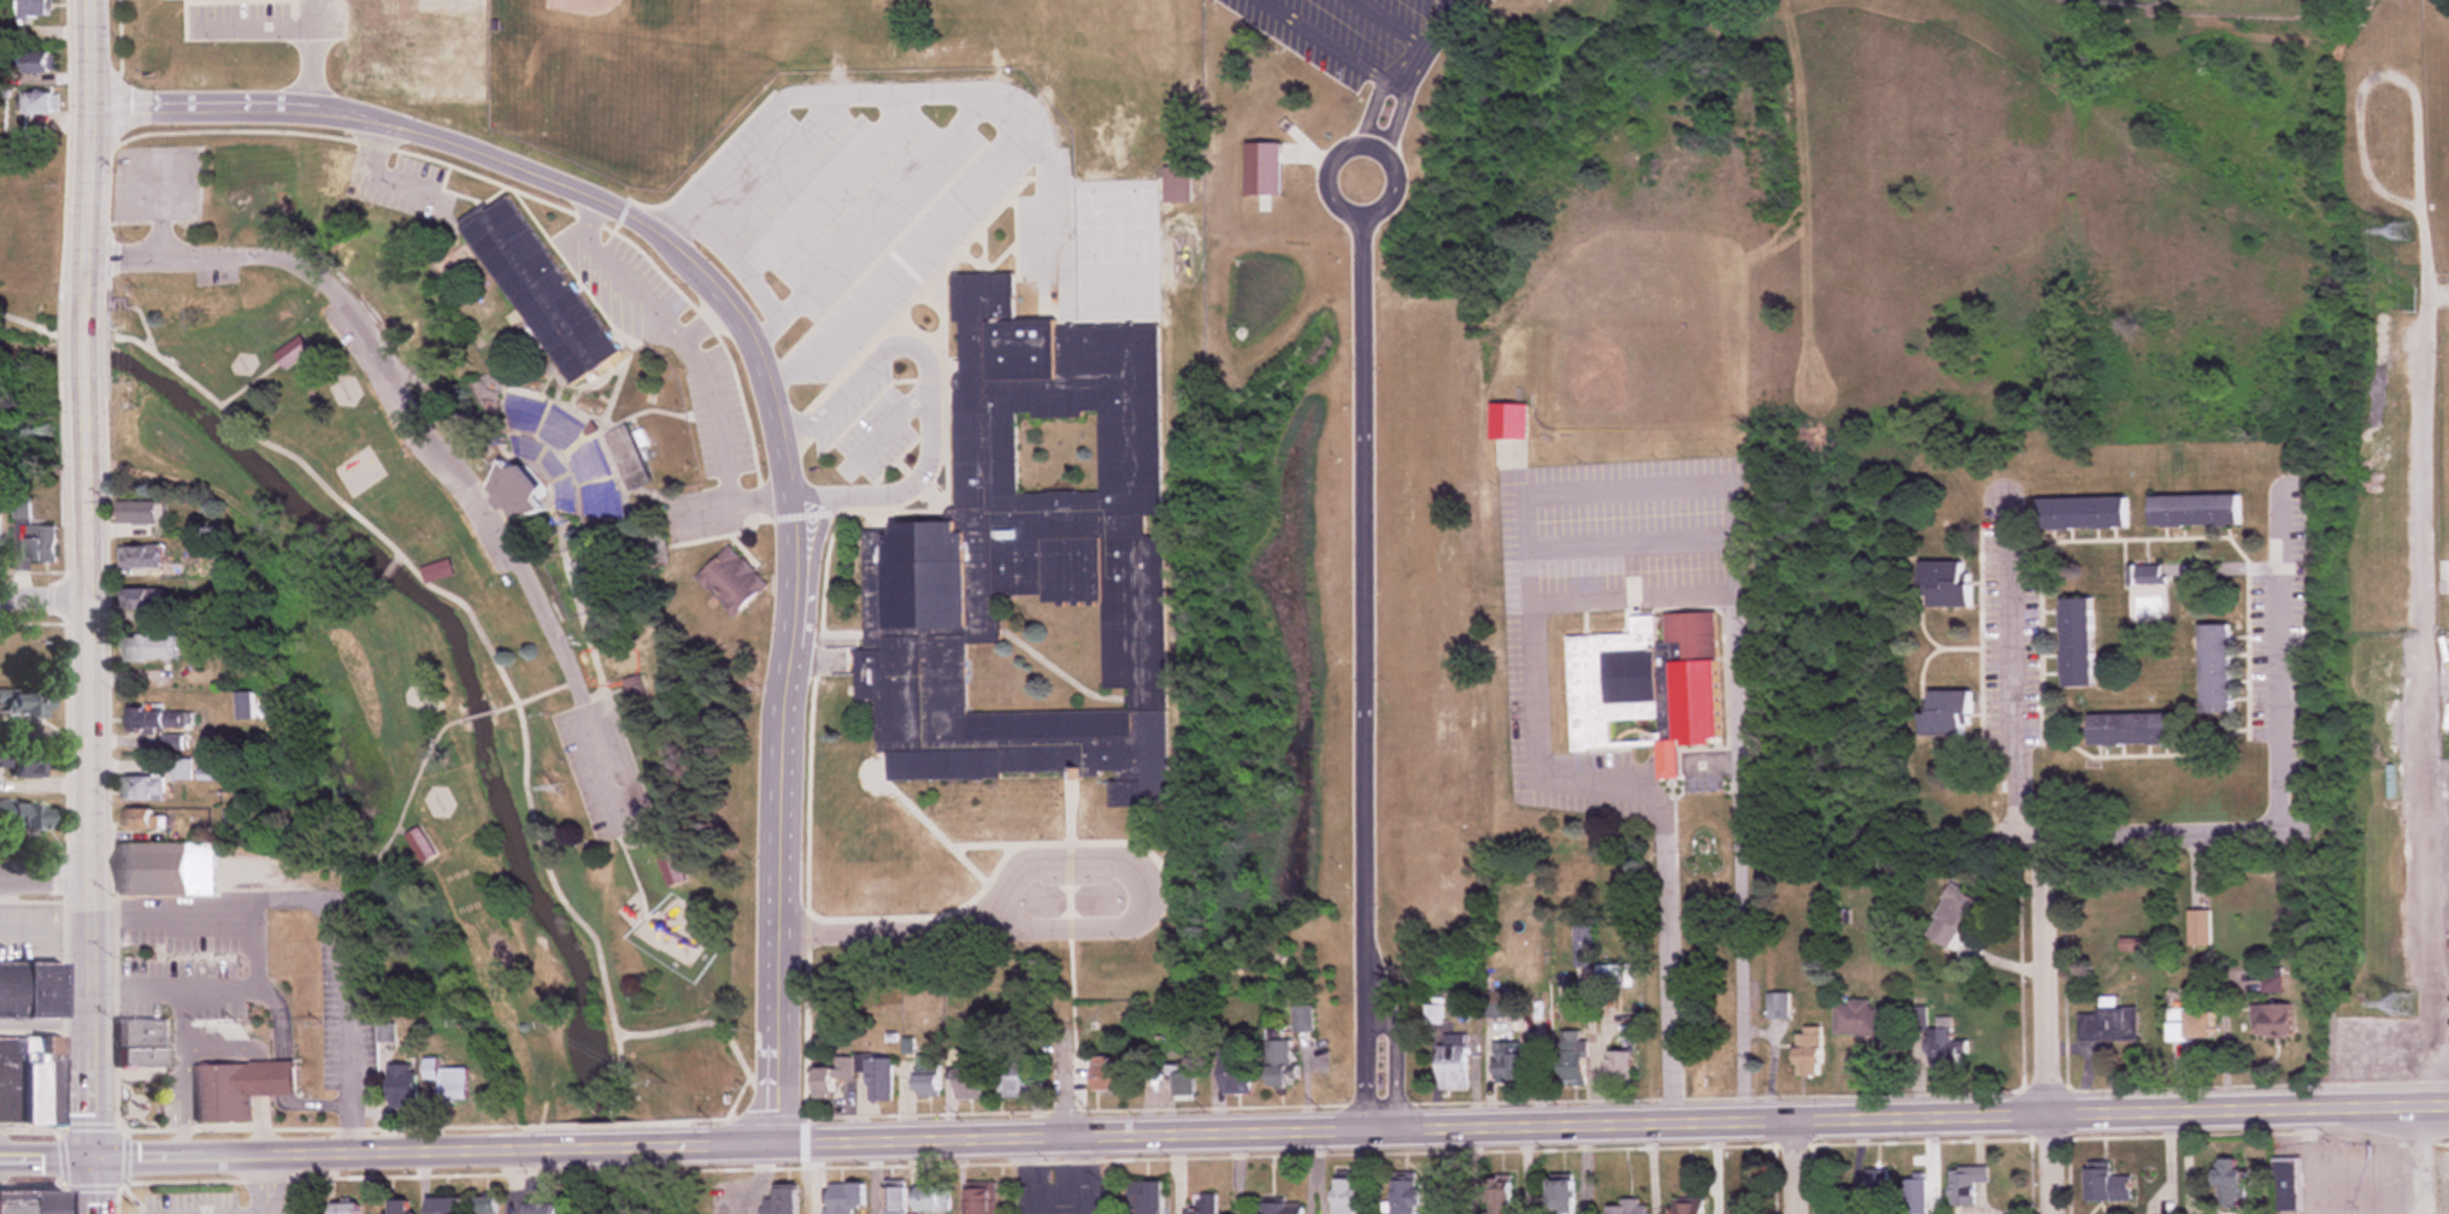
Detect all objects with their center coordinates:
road: (1454, 0)
building: (1224, 1)
park: (2138, 1)
building: (33, 8)
road: (1441, 19)
road: (1395, 20)
road: (252, 23)
road: (1326, 37)
building: (396, 39)
road: (311, 51)
building: (35, 63)
road: (1382, 81)
road: (819, 90)
road: (1405, 94)
building: (37, 102)
road: (373, 142)
road: (92, 158)
road: (775, 158)
road: (826, 177)
road: (405, 178)
building: (1176, 183)
road: (1047, 195)
road: (1338, 199)
road: (871, 213)
road: (159, 219)
power tower: (2402, 230)
park: (29, 235)
road: (732, 253)
road: (893, 254)
road: (636, 288)
building: (537, 291)
building: (293, 352)
road: (92, 354)
road: (763, 372)
road: (714, 411)
road: (928, 418)
road: (888, 420)
building: (1507, 420)
road: (423, 441)
building: (559, 458)
road: (1630, 484)
road: (808, 488)
road: (2421, 489)
road: (728, 500)
building: (2195, 511)
building: (141, 513)
building: (2083, 514)
building: (0, 530)
road: (1630, 537)
building: (41, 544)
building: (143, 556)
park: (483, 559)
building: (1029, 566)
building: (437, 571)
building: (731, 581)
building: (1947, 583)
road: (46, 599)
building: (142, 600)
road: (452, 602)
road: (1361, 608)
building: (2077, 643)
building: (151, 648)
road: (1532, 654)
building: (2217, 670)
road: (1733, 672)
road: (2014, 674)
building: (1646, 685)
building: (22, 706)
building: (245, 706)
building: (1948, 714)
building: (159, 719)
building: (2135, 729)
building: (171, 742)
building: (1, 760)
building: (27, 762)
building: (179, 768)
road: (2280, 768)
road: (93, 773)
building: (142, 788)
building: (22, 815)
building: (145, 819)
building: (418, 844)
building: (166, 868)
building: (670, 868)
road: (46, 873)
road: (1137, 879)
road: (8, 903)
road: (325, 914)
building: (1950, 918)
road: (878, 926)
building: (2198, 927)
road: (47, 933)
road: (1742, 938)
building: (1583, 942)
road: (1667, 963)
building: (1609, 976)
road: (216, 986)
building: (29, 990)
building: (1777, 1007)
power tower: (2402, 1007)
road: (277, 1012)
road: (179, 1016)
building: (1302, 1019)
building: (1915, 1019)
road: (2048, 1020)
building: (2272, 1020)
road: (47, 1024)
road: (710, 1024)
building: (1865, 1024)
building: (2109, 1025)
building: (2200, 1026)
building: (141, 1044)
road: (2363, 1044)
building: (1944, 1047)
road: (220, 1048)
building: (1808, 1053)
road: (2439, 1057)
building: (1573, 1059)
building: (1512, 1062)
building: (1278, 1063)
road: (1393, 1063)
road: (1366, 1065)
building: (1453, 1066)
building: (1619, 1066)
building: (1235, 1072)
building: (1103, 1075)
building: (8, 1077)
road: (279, 1077)
building: (829, 1077)
building: (924, 1077)
building: (29, 1078)
building: (49, 1078)
road: (259, 1078)
building: (876, 1080)
building: (965, 1083)
road: (1061, 1084)
building: (452, 1085)
building: (1182, 1085)
building: (236, 1086)
building: (401, 1088)
building: (1012, 1088)
road: (182, 1100)
park: (141, 1101)
road: (312, 1103)
road: (2388, 1106)
road: (261, 1125)
road: (1482, 1125)
road: (584, 1142)
road: (314, 1149)
road: (49, 1155)
traffic signals: (99, 1155)
road: (2422, 1160)
road: (1797, 1167)
road: (1034, 1174)
road: (1083, 1174)
road: (266, 1181)
road: (98, 1184)
building: (1965, 1184)
building: (2230, 1184)
building: (2288, 1185)
building: (2107, 1186)
building: (1876, 1188)
building: (1346, 1196)
building: (1499, 1196)
building: (1561, 1196)
building: (1913, 1196)
road: (642, 1197)
building: (1405, 1197)
building: (842, 1198)
building: (1144, 1198)
building: (930, 1200)
building: (12, 1201)
building: (43, 1201)
building: (891, 1201)
building: (979, 1201)
building: (783, 1202)
building: (1202, 1204)
building: (485, 1206)
building: (398, 1207)
building: (443, 1207)
building: (346, 1208)
building: (1626, 1208)
building: (1689, 1208)
building: (537, 1209)
building: (1279, 1209)
building: (1739, 1209)

